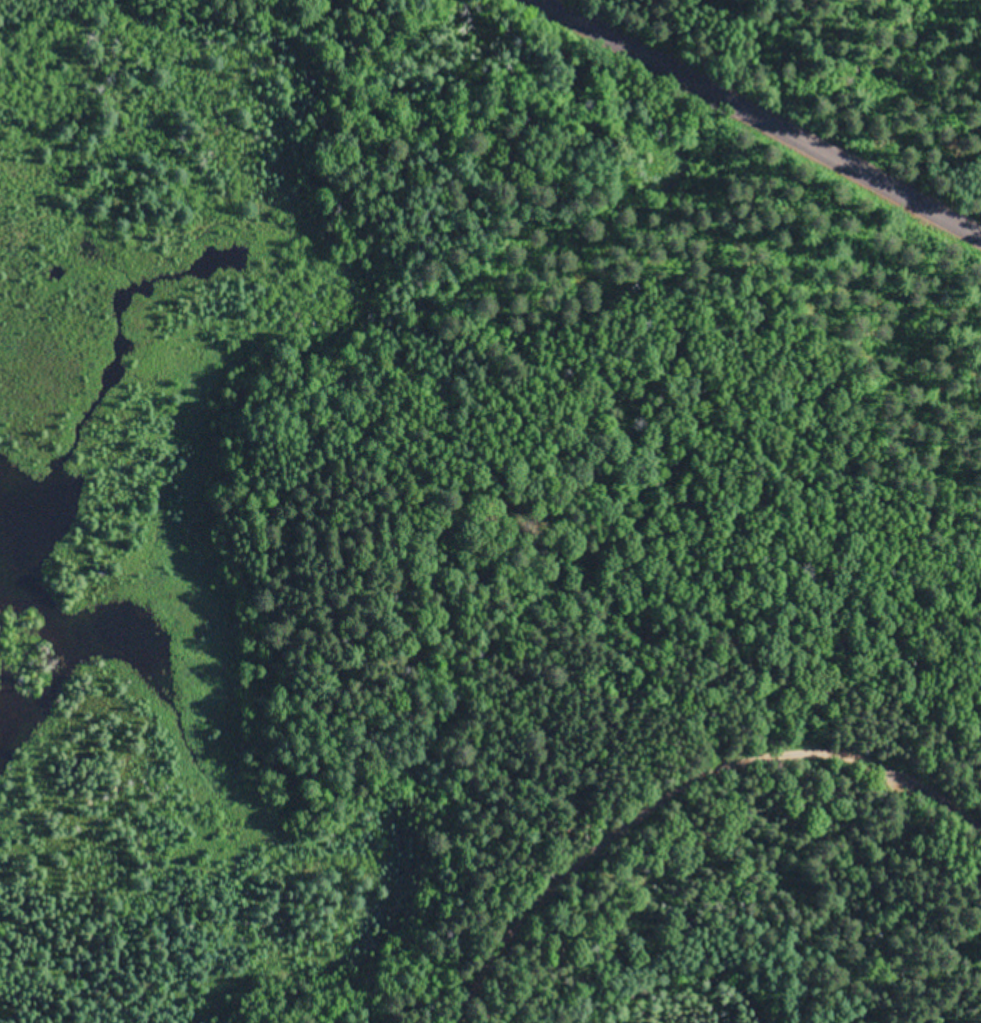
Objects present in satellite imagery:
road: (758, 123)
road: (378, 678)

